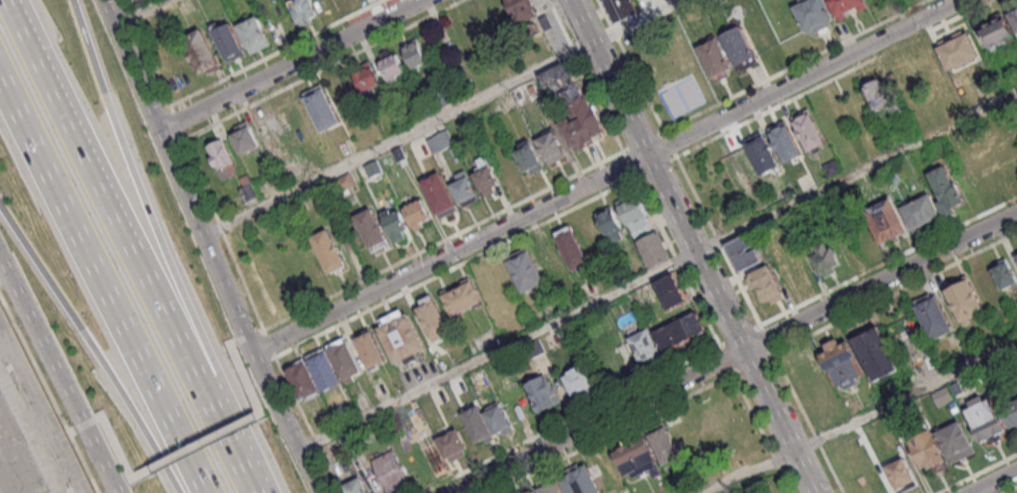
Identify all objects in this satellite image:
building: (847, 6)
building: (522, 8)
building: (1016, 8)
building: (621, 9)
road: (141, 13)
building: (815, 13)
building: (304, 14)
building: (1014, 16)
road: (632, 20)
building: (467, 28)
building: (530, 29)
building: (999, 31)
building: (254, 39)
parking lot: (555, 39)
building: (229, 43)
building: (740, 46)
building: (959, 49)
road: (148, 53)
road: (276, 53)
building: (201, 56)
building: (416, 56)
building: (716, 57)
road: (130, 64)
road: (795, 64)
road: (290, 65)
road: (631, 65)
road: (322, 69)
park: (669, 69)
building: (394, 70)
road: (585, 75)
building: (368, 78)
road: (830, 79)
building: (875, 93)
building: (447, 97)
building: (575, 106)
building: (323, 107)
building: (425, 108)
road: (178, 122)
building: (809, 127)
building: (245, 138)
road: (397, 139)
road: (644, 141)
building: (787, 141)
building: (441, 142)
road: (670, 143)
building: (551, 146)
building: (399, 153)
building: (762, 153)
building: (529, 156)
building: (222, 157)
road: (630, 163)
road: (654, 166)
building: (374, 168)
building: (832, 168)
road: (856, 172)
building: (487, 175)
road: (608, 175)
building: (346, 182)
park: (718, 186)
building: (466, 188)
building: (948, 191)
road: (140, 192)
road: (103, 193)
building: (248, 193)
building: (441, 193)
building: (633, 207)
building: (418, 212)
building: (922, 212)
building: (886, 220)
building: (396, 222)
road: (541, 224)
building: (611, 225)
building: (373, 228)
building: (642, 228)
road: (223, 233)
road: (719, 239)
building: (572, 246)
road: (693, 246)
road: (426, 248)
building: (329, 249)
building: (655, 249)
building: (744, 254)
building: (1016, 256)
building: (825, 257)
building: (553, 258)
road: (889, 260)
road: (2, 267)
road: (45, 270)
building: (526, 270)
building: (1005, 275)
building: (767, 285)
road: (99, 287)
road: (894, 291)
building: (672, 292)
building: (464, 299)
building: (965, 300)
road: (235, 313)
building: (934, 316)
building: (435, 319)
building: (681, 331)
road: (740, 334)
building: (404, 338)
road: (765, 338)
road: (269, 342)
building: (646, 347)
building: (536, 348)
building: (372, 349)
road: (498, 351)
road: (736, 354)
building: (877, 354)
road: (726, 358)
building: (345, 360)
road: (753, 361)
building: (843, 363)
building: (325, 369)
parking lot: (419, 373)
road: (58, 375)
building: (305, 380)
building: (582, 381)
building: (958, 389)
building: (543, 392)
road: (50, 393)
building: (944, 396)
road: (906, 397)
building: (1012, 412)
road: (136, 416)
building: (987, 418)
road: (571, 419)
road: (39, 420)
building: (501, 421)
road: (85, 422)
road: (807, 422)
road: (308, 424)
building: (480, 424)
road: (613, 432)
road: (764, 432)
parking lot: (29, 433)
road: (227, 440)
building: (958, 442)
building: (348, 443)
road: (197, 444)
building: (455, 444)
building: (665, 446)
building: (928, 450)
building: (638, 460)
building: (394, 471)
road: (753, 472)
road: (977, 473)
building: (902, 474)
building: (580, 480)
road: (994, 481)
building: (357, 486)
building: (551, 487)
road: (1009, 489)
building: (530, 492)
building: (535, 492)

